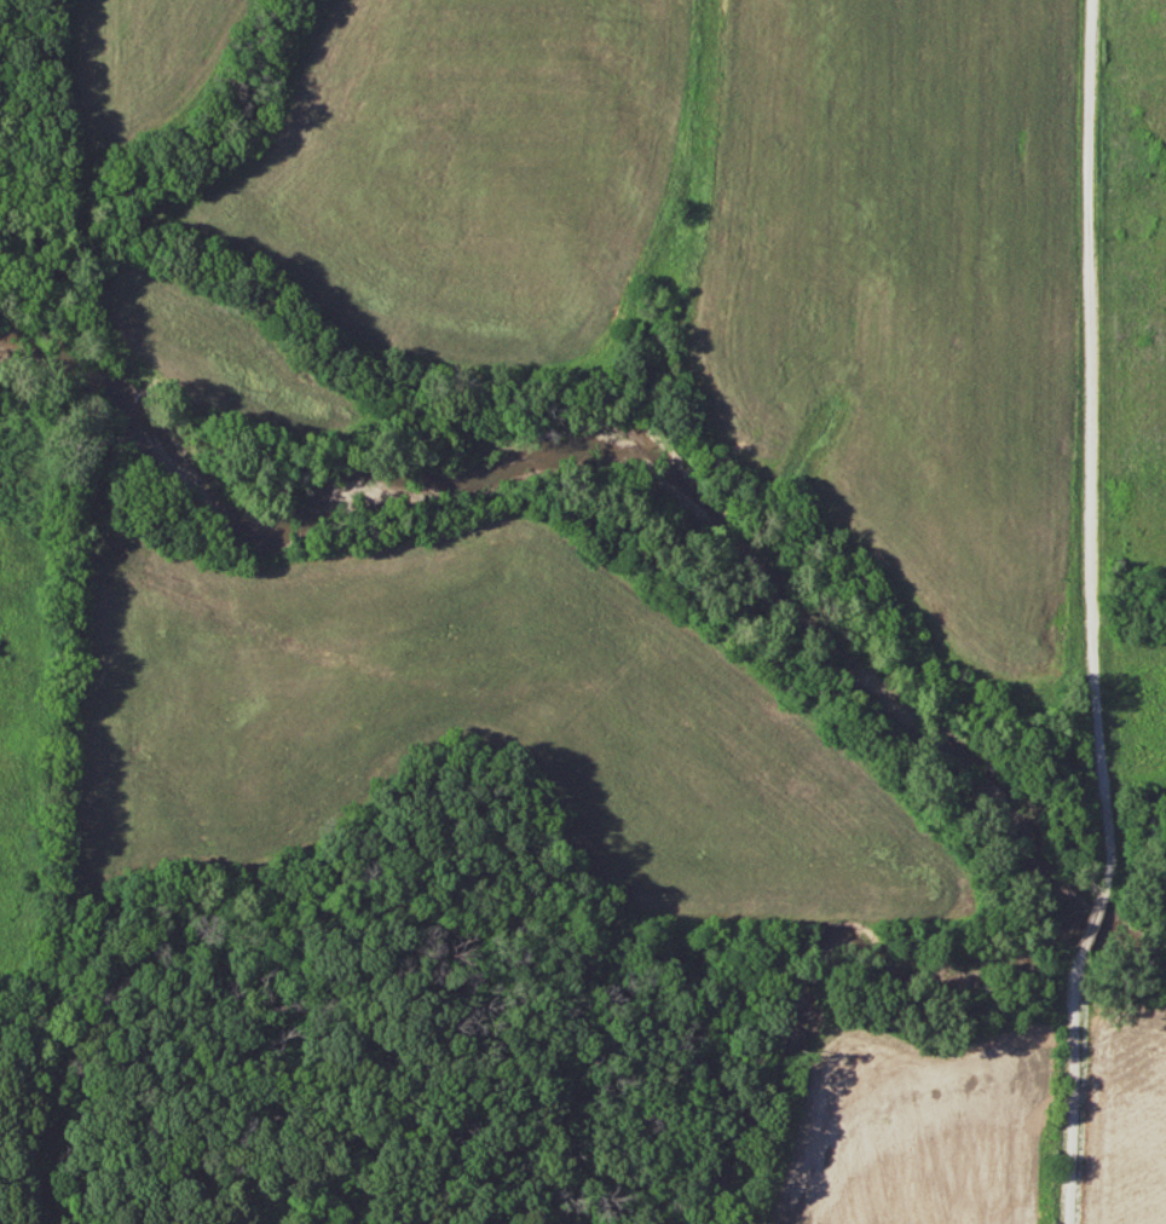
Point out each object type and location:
river: (651, 451)
road: (1091, 456)
road: (1092, 928)
road: (1073, 1084)

